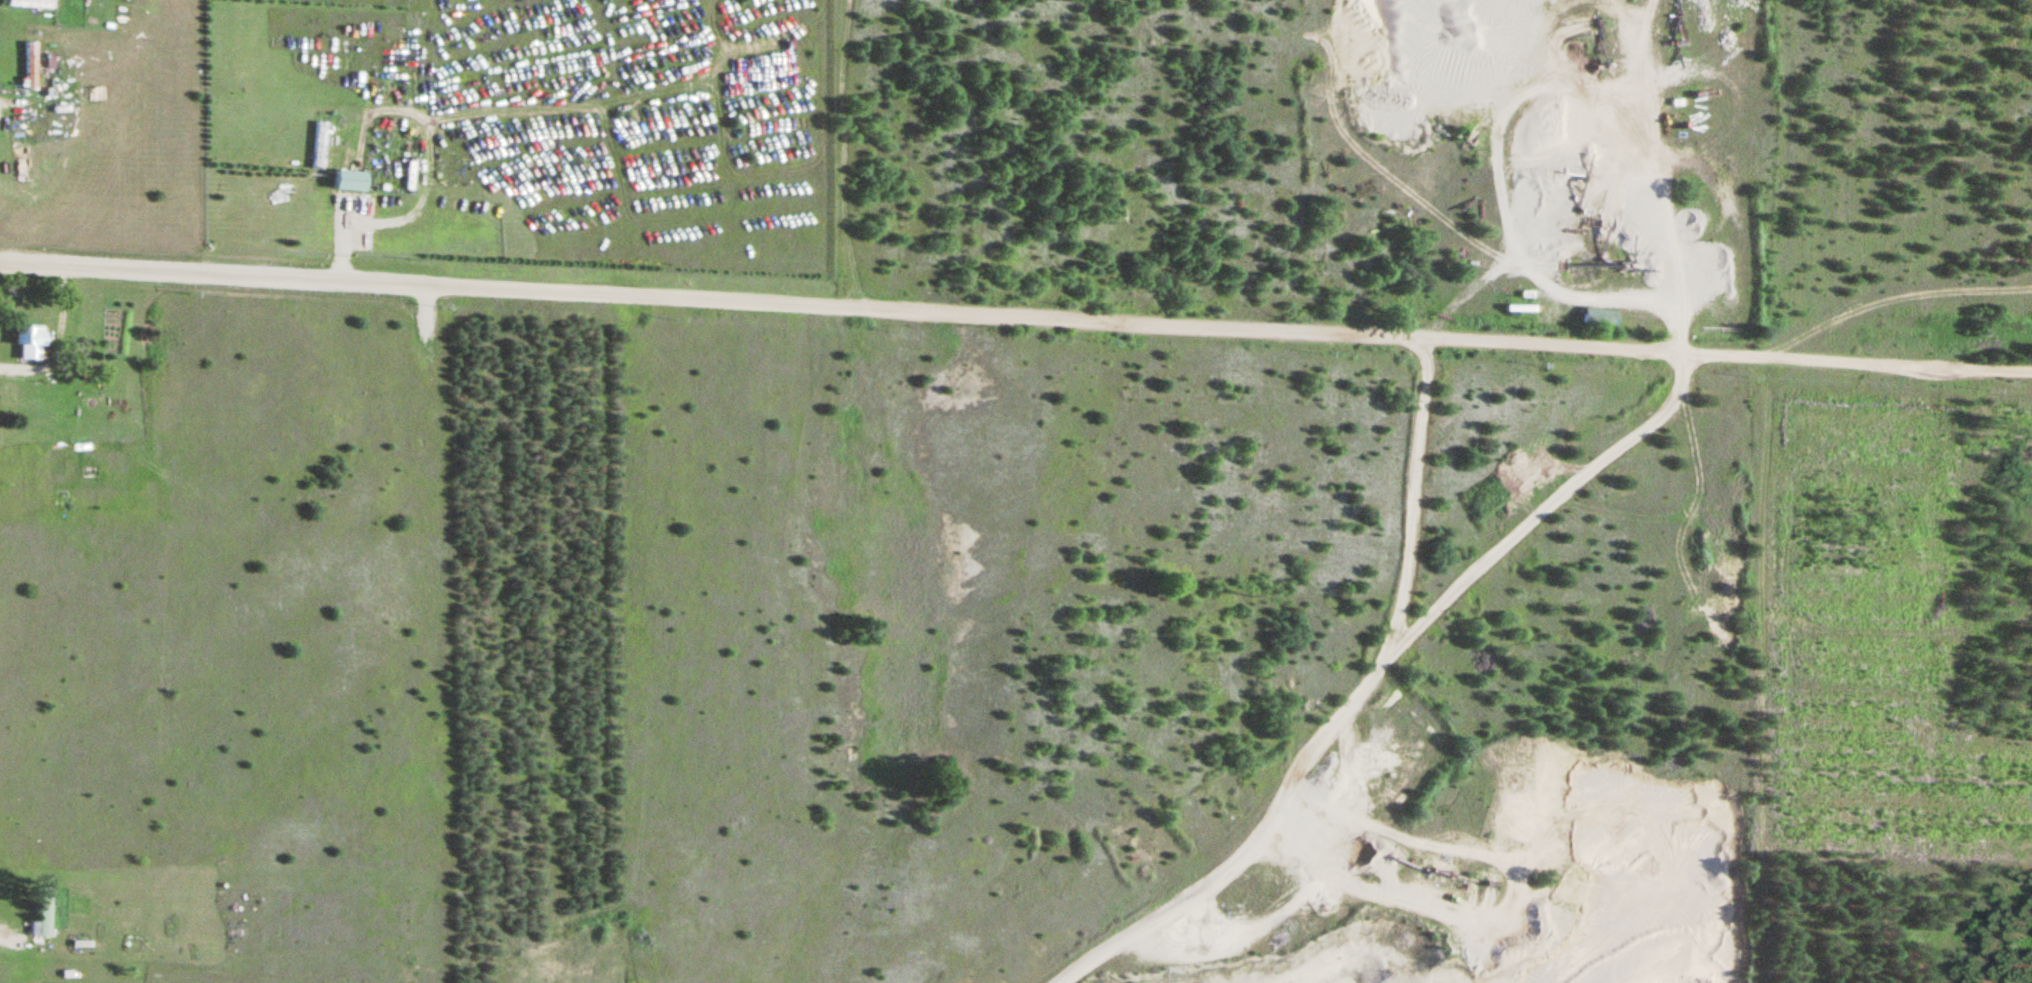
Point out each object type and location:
building: (29, 4)
building: (27, 66)
quarry: (1533, 161)
building: (347, 179)
road: (337, 237)
road: (1562, 293)
road: (1892, 296)
quarry: (2022, 302)
building: (1517, 308)
road: (1015, 315)
building: (1598, 318)
road: (54, 336)
building: (30, 341)
quarry: (1361, 881)
building: (41, 915)
road: (8, 938)

